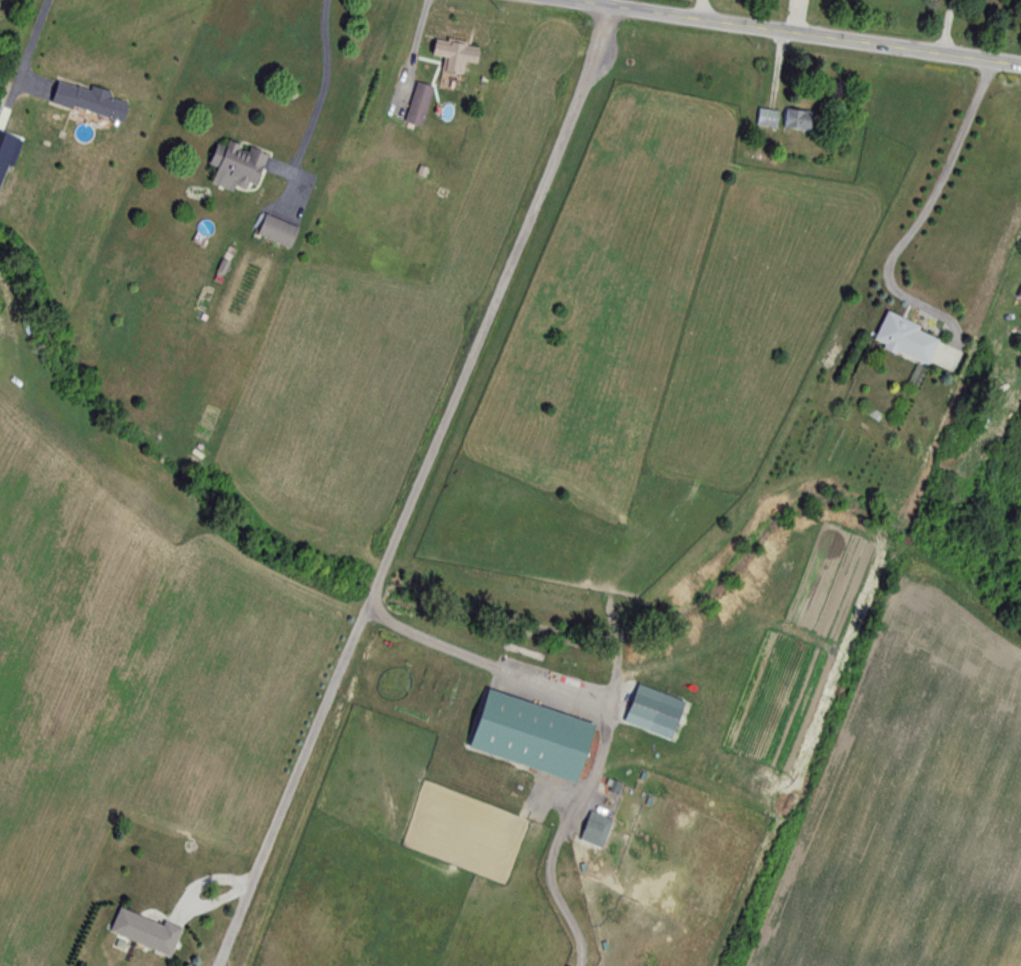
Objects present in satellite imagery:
road: (948, 24)
road: (802, 28)
road: (35, 40)
building: (455, 54)
road: (324, 82)
building: (90, 101)
building: (419, 103)
building: (767, 118)
building: (798, 120)
building: (237, 165)
road: (928, 204)
building: (277, 231)
crop: (399, 333)
building: (906, 339)
crop: (655, 360)
road: (395, 552)
crop: (125, 667)
building: (643, 707)
building: (532, 736)
road: (291, 781)
crop: (914, 811)
building: (596, 830)
building: (146, 932)

